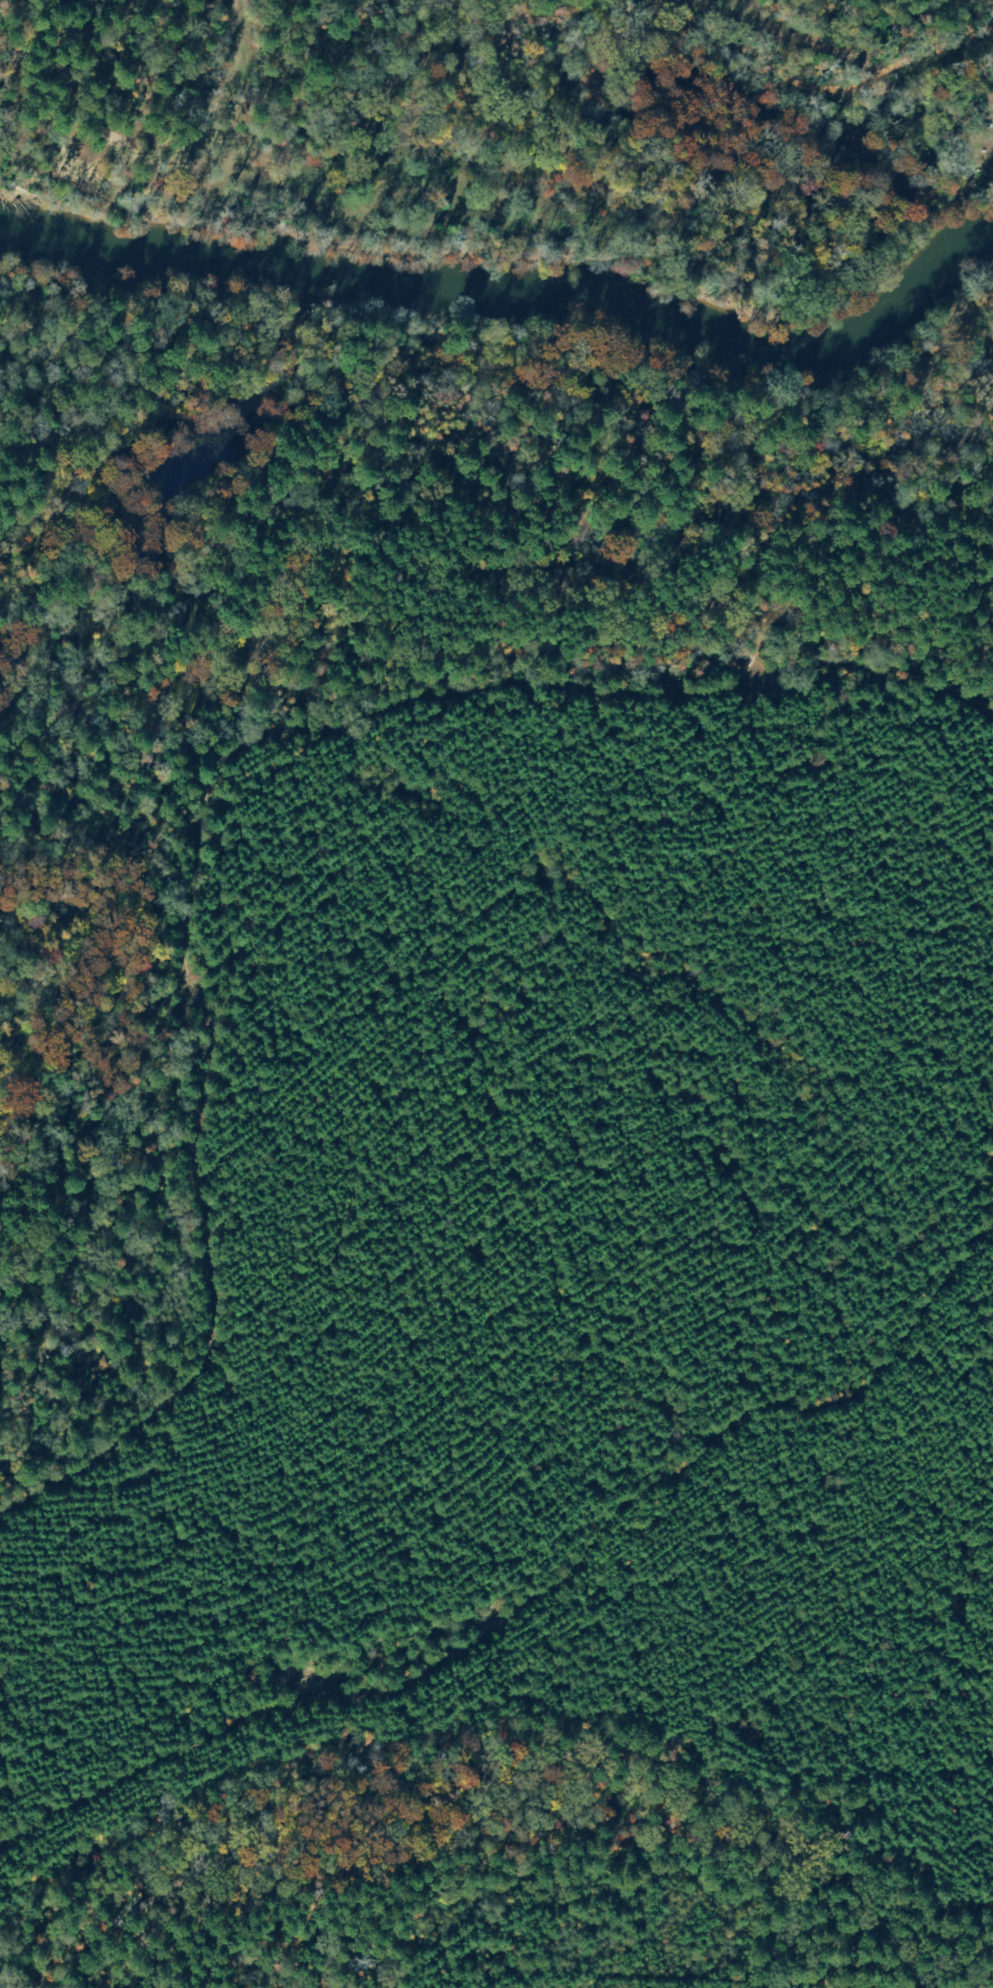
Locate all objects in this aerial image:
road: (831, 81)
river: (519, 290)

